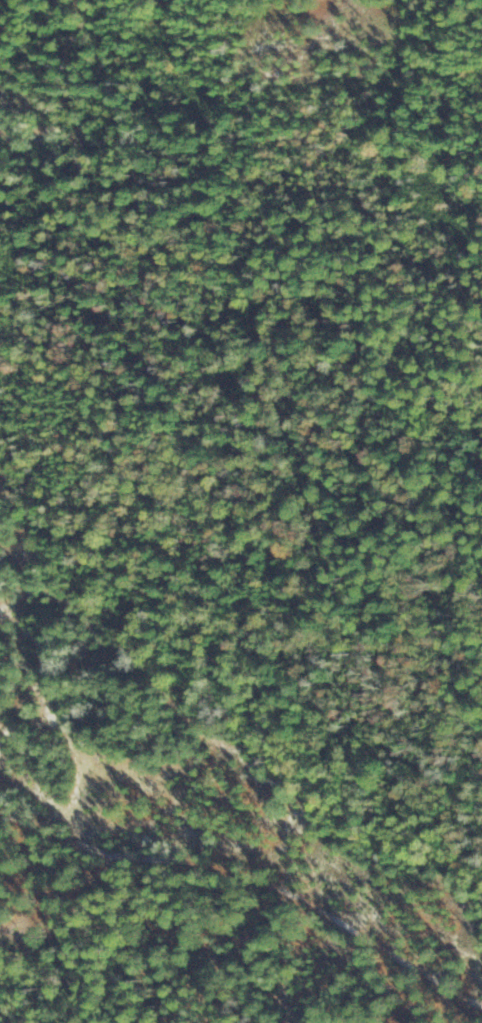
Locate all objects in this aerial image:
road: (241, 911)

